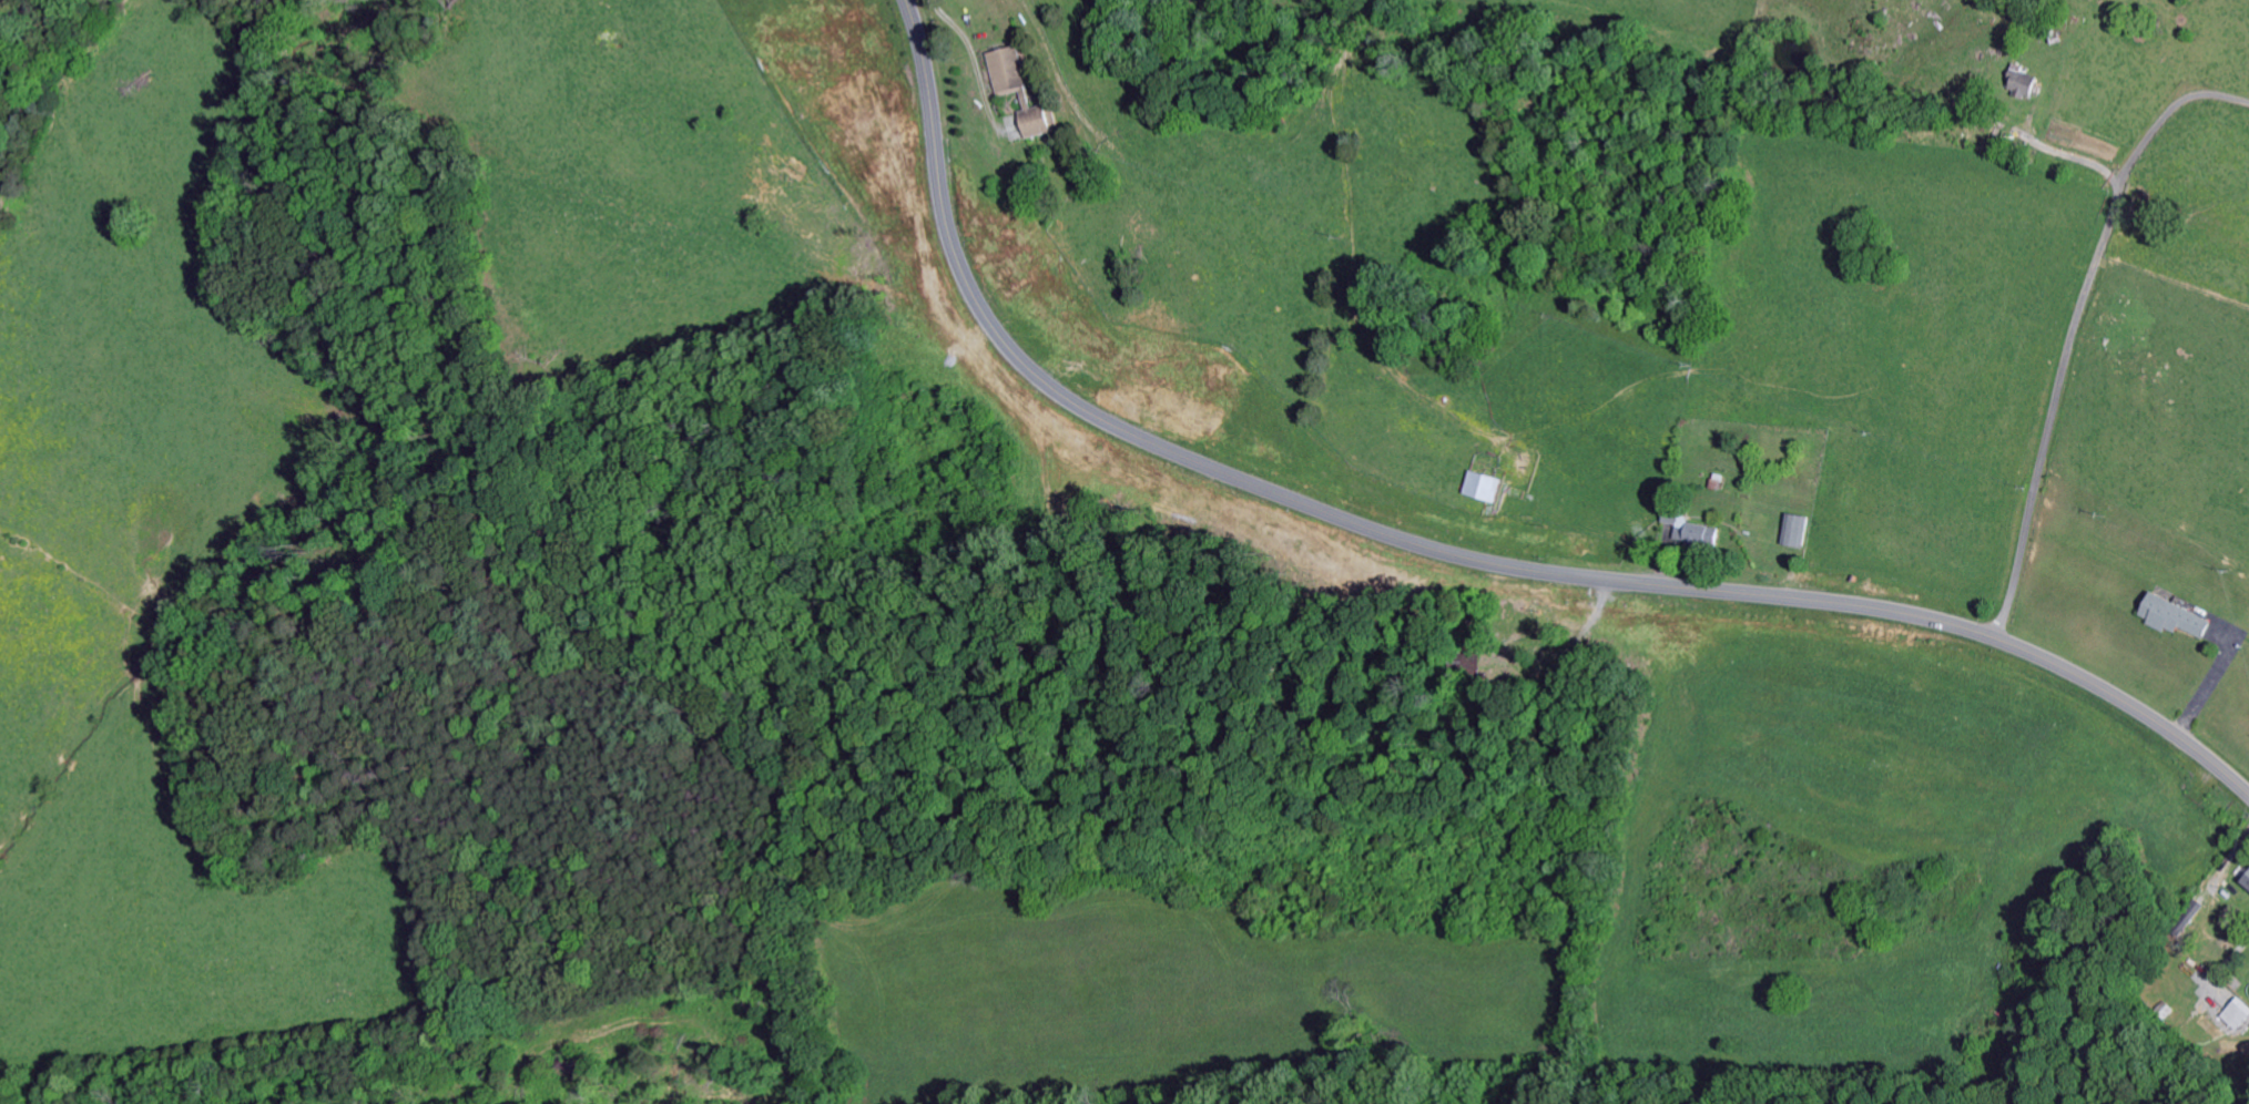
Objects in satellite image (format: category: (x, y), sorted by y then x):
road: (2062, 361)
building: (1475, 489)
building: (1788, 532)
building: (1683, 533)
road: (1447, 552)
building: (2166, 620)
road: (984, 750)
building: (2243, 882)
building: (2185, 917)
building: (2230, 1016)

